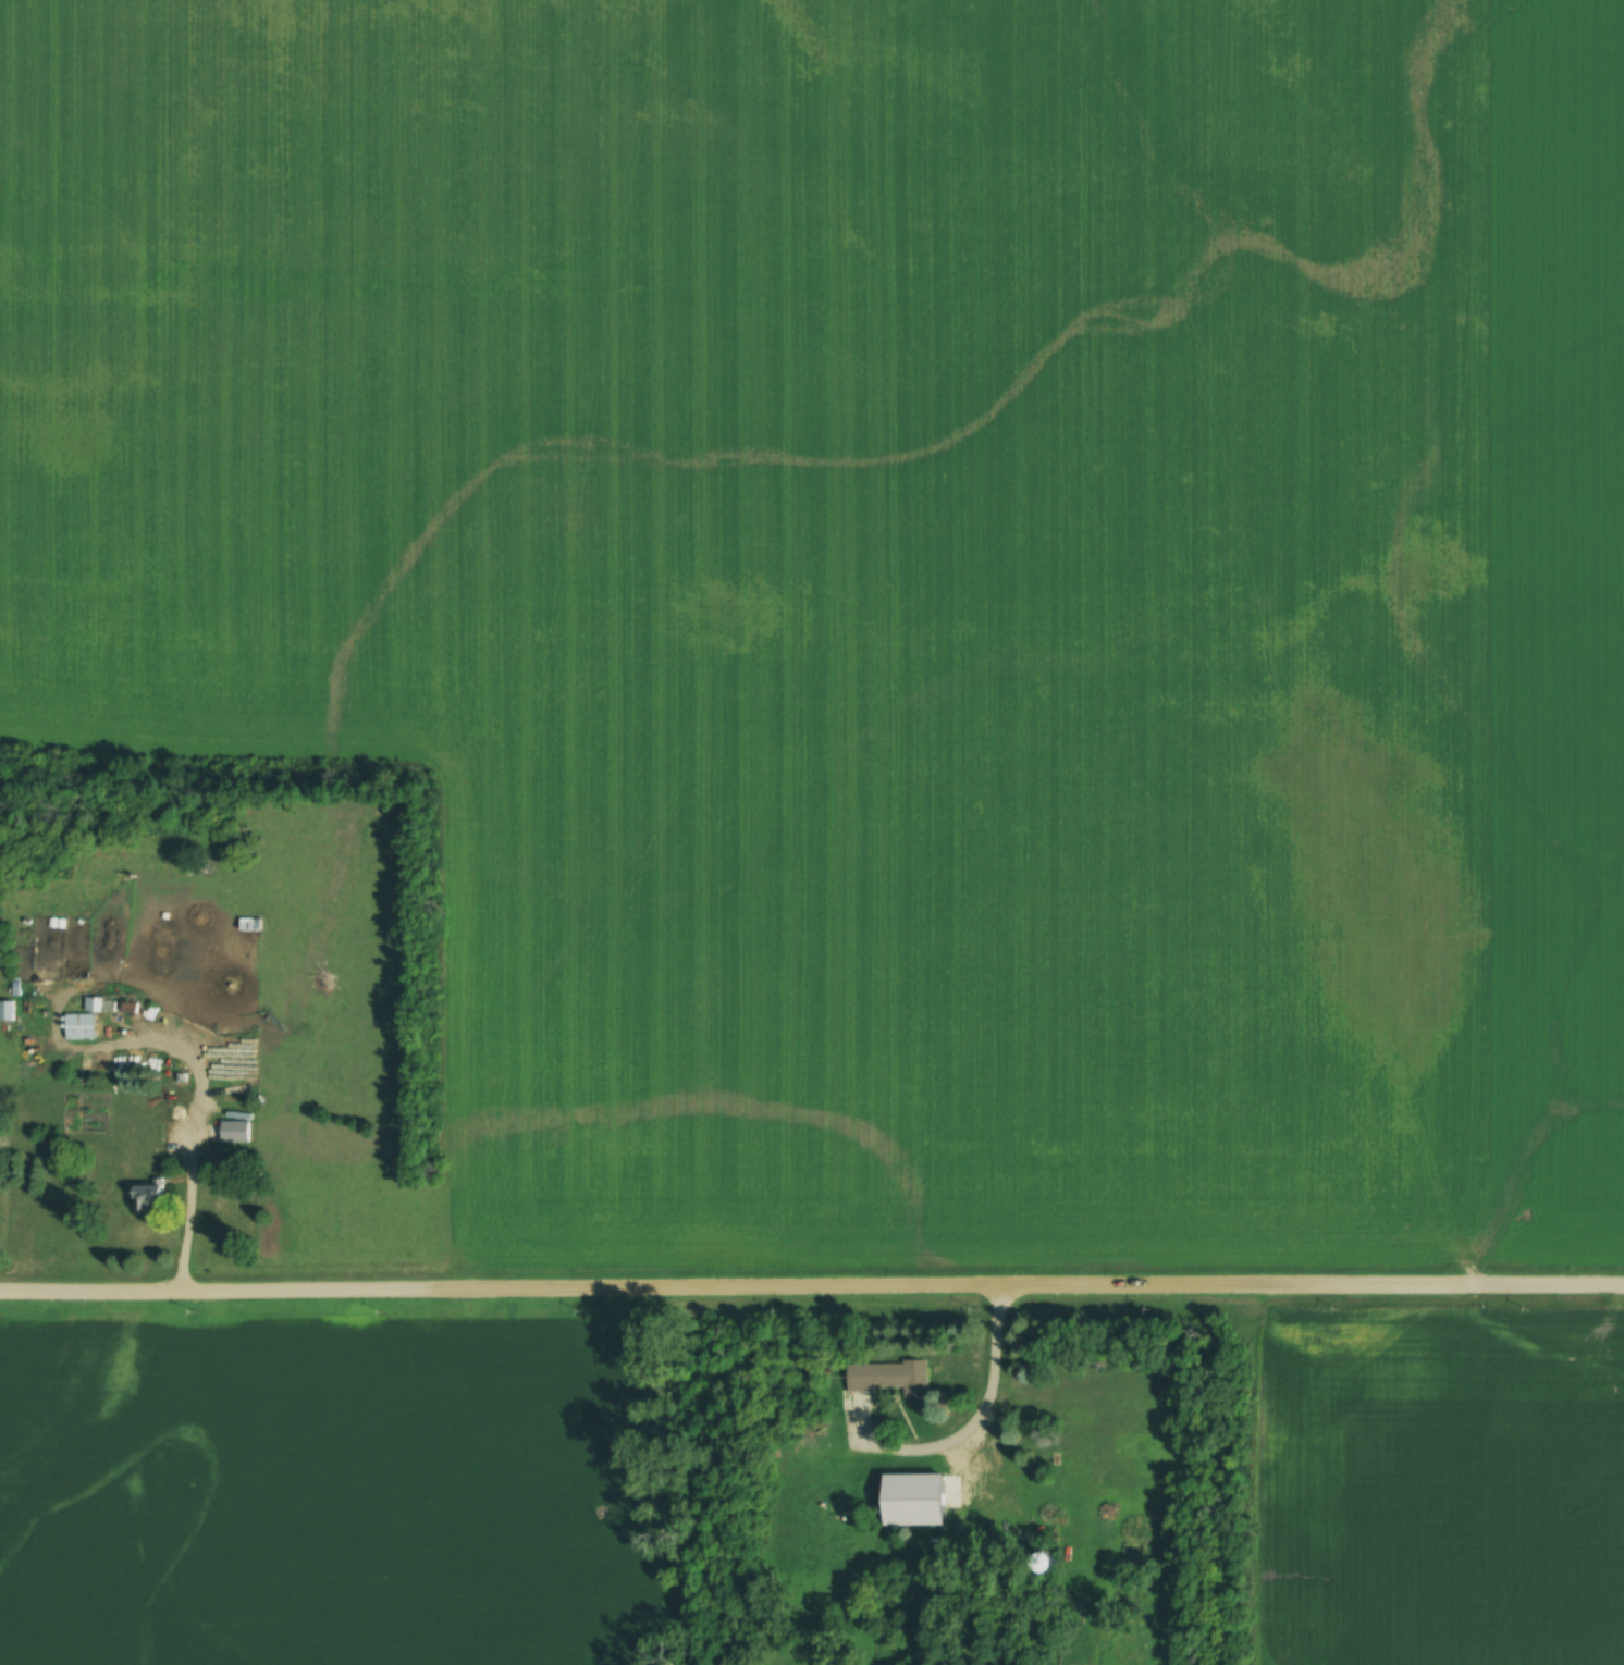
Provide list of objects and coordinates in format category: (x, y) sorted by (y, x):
building: (249, 923)
building: (88, 1003)
building: (7, 1010)
building: (77, 1026)
building: (230, 1131)
building: (145, 1197)
road: (812, 1285)
building: (887, 1377)
building: (911, 1496)
building: (1034, 1561)

